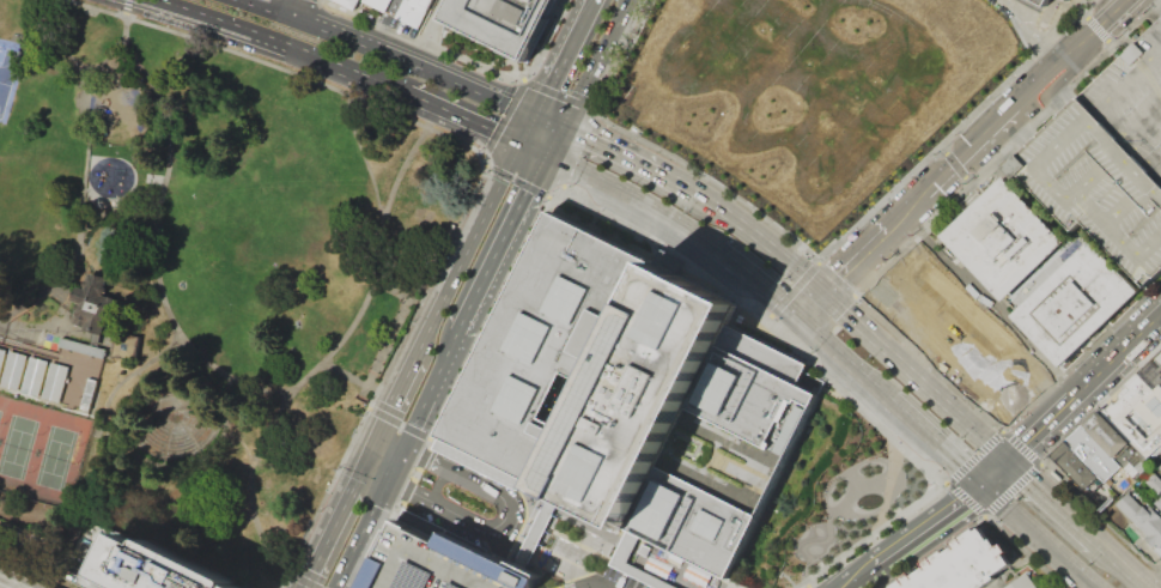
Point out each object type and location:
building: (1068, 0)
building: (348, 4)
building: (1038, 4)
building: (377, 5)
road: (297, 7)
building: (414, 12)
road: (215, 20)
building: (503, 22)
road: (1093, 32)
road: (129, 35)
road: (428, 35)
road: (51, 41)
road: (546, 41)
road: (1016, 41)
road: (391, 53)
road: (618, 54)
road: (564, 56)
road: (597, 62)
road: (345, 69)
park: (6, 72)
road: (1047, 77)
road: (558, 93)
road: (1026, 97)
road: (412, 99)
traffic signals: (536, 114)
road: (502, 117)
road: (551, 120)
road: (468, 123)
traffic signals: (566, 127)
road: (528, 129)
road: (1017, 131)
road: (361, 143)
road: (558, 143)
traffic signals: (519, 145)
road: (575, 146)
road: (612, 146)
road: (971, 150)
road: (534, 152)
building: (1108, 158)
parking lot: (1108, 158)
traffic signals: (549, 159)
road: (482, 160)
traffic signals: (955, 165)
road: (673, 178)
road: (515, 181)
park: (26, 182)
road: (558, 194)
road: (636, 199)
road: (906, 212)
road: (758, 236)
road: (1069, 236)
building: (1003, 238)
road: (506, 245)
road: (466, 248)
road: (856, 260)
road: (163, 261)
road: (162, 271)
park: (199, 278)
road: (758, 281)
building: (930, 285)
traffic signals: (823, 291)
building: (89, 302)
road: (810, 303)
building: (1075, 304)
road: (840, 307)
traffic signals: (797, 316)
road: (490, 322)
building: (124, 346)
road: (1122, 350)
parking lot: (1160, 353)
road: (841, 357)
building: (986, 368)
building: (47, 369)
road: (135, 371)
road: (440, 372)
road: (382, 376)
road: (349, 377)
road: (403, 381)
road: (932, 389)
building: (636, 404)
building: (1137, 410)
road: (397, 422)
road: (411, 428)
road: (381, 429)
road: (1031, 436)
building: (1110, 437)
road: (430, 438)
road: (934, 442)
traffic signals: (403, 443)
park: (45, 445)
road: (388, 447)
traffic signals: (372, 450)
building: (1092, 453)
traffic signals: (1008, 459)
road: (395, 461)
road: (379, 465)
road: (448, 465)
building: (1074, 465)
building: (1160, 467)
road: (363, 468)
road: (414, 473)
road: (511, 478)
traffic signals: (387, 479)
traffic signals: (980, 485)
building: (1155, 487)
road: (253, 491)
road: (1051, 498)
park: (826, 499)
road: (467, 520)
building: (1141, 522)
road: (359, 533)
building: (531, 533)
road: (916, 534)
road: (1039, 535)
road: (329, 537)
road: (485, 538)
road: (377, 544)
road: (525, 546)
road: (549, 558)
building: (442, 563)
parking lot: (442, 563)
road: (1120, 563)
building: (127, 564)
building: (968, 566)
road: (682, 571)
road: (287, 572)
road: (566, 576)
road: (303, 581)
building: (1022, 583)
road: (570, 584)
road: (845, 584)
road: (0, 587)

